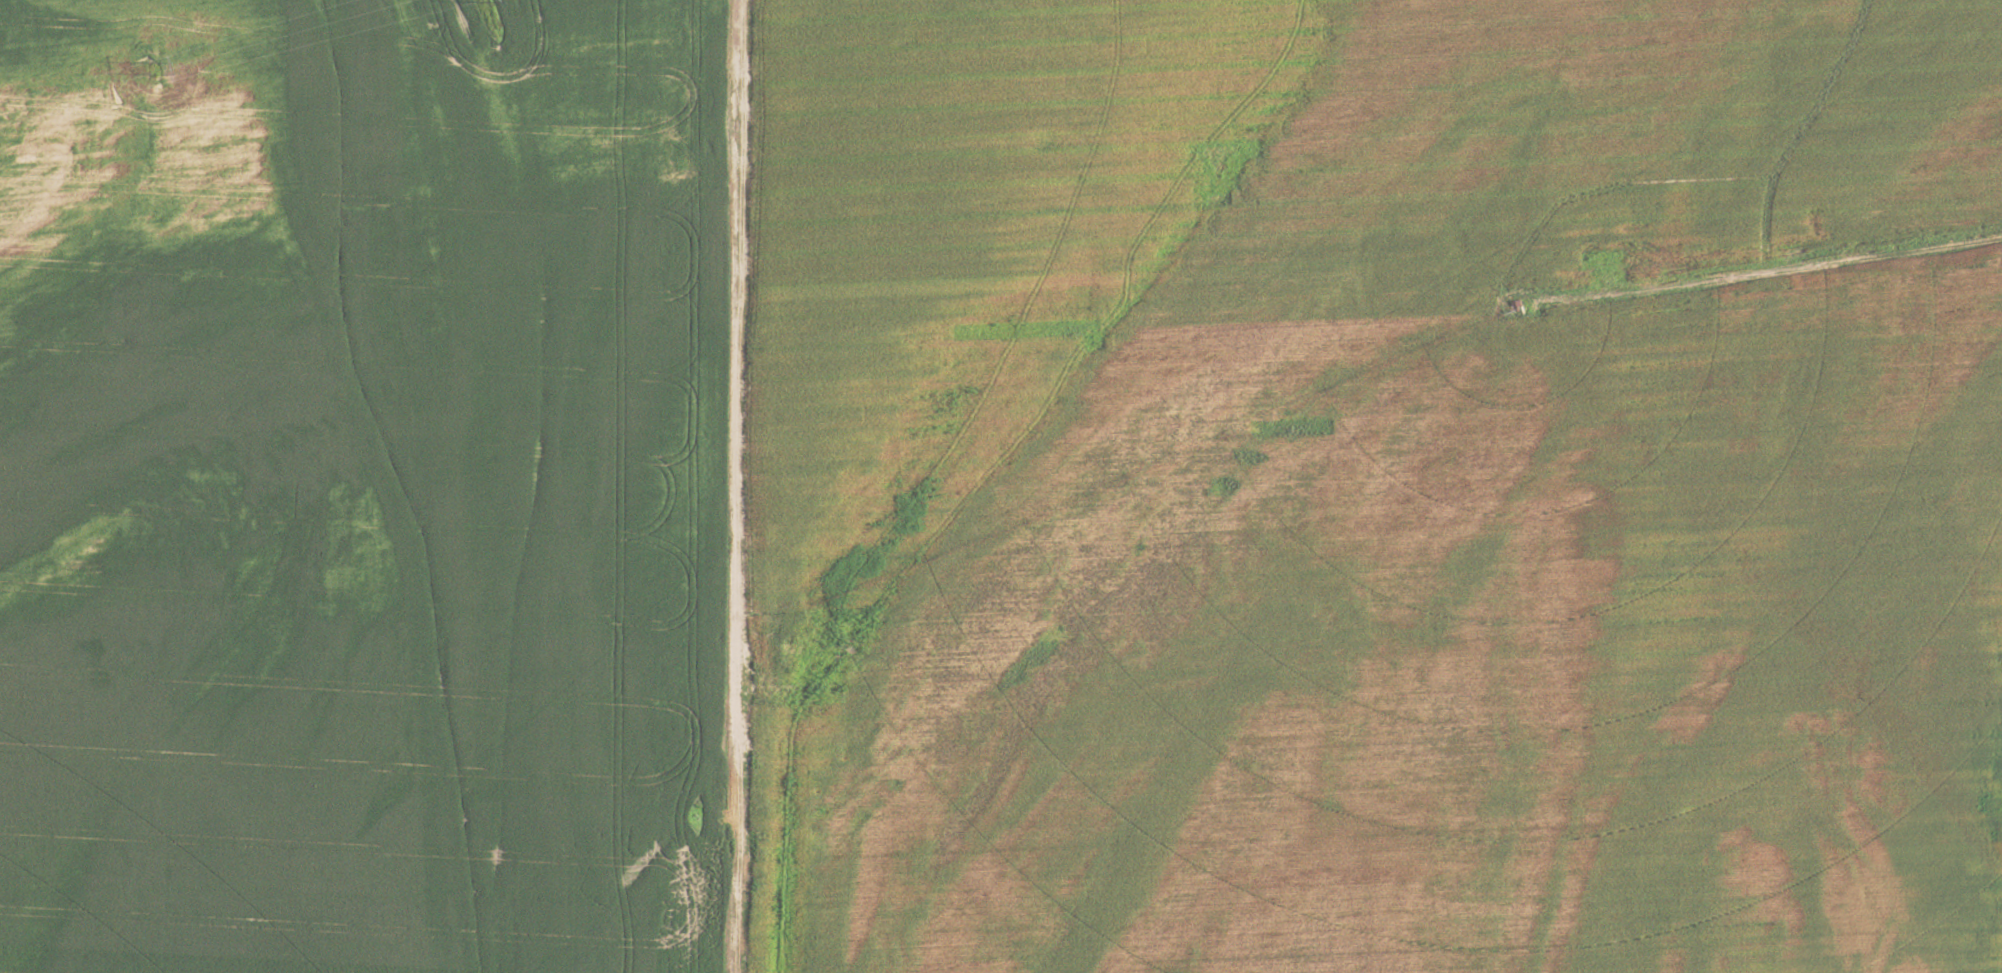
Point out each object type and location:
power tower: (158, 72)

